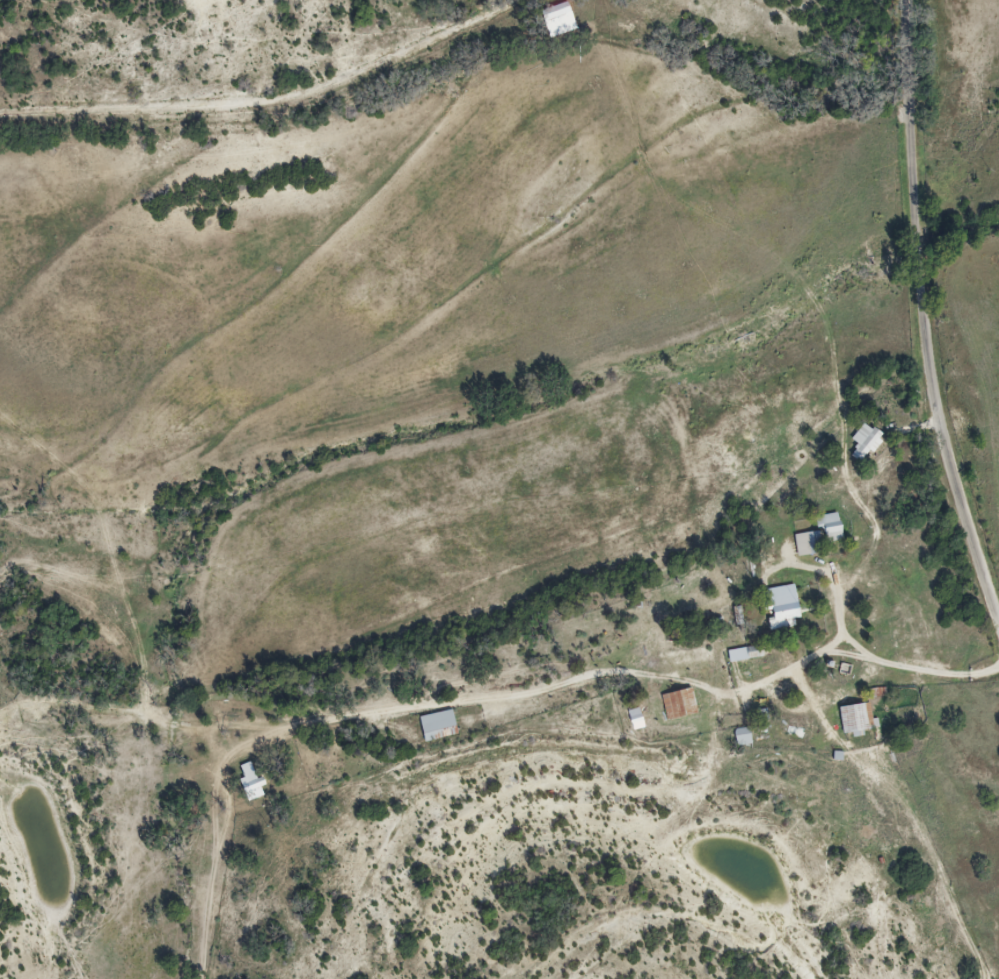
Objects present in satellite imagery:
building: (556, 10)
road: (263, 96)
road: (809, 110)
road: (922, 315)
building: (863, 442)
building: (828, 527)
building: (807, 544)
building: (781, 608)
road: (521, 654)
building: (745, 654)
building: (680, 704)
building: (637, 719)
building: (856, 719)
building: (438, 726)
building: (743, 734)
building: (251, 786)
road: (887, 859)

